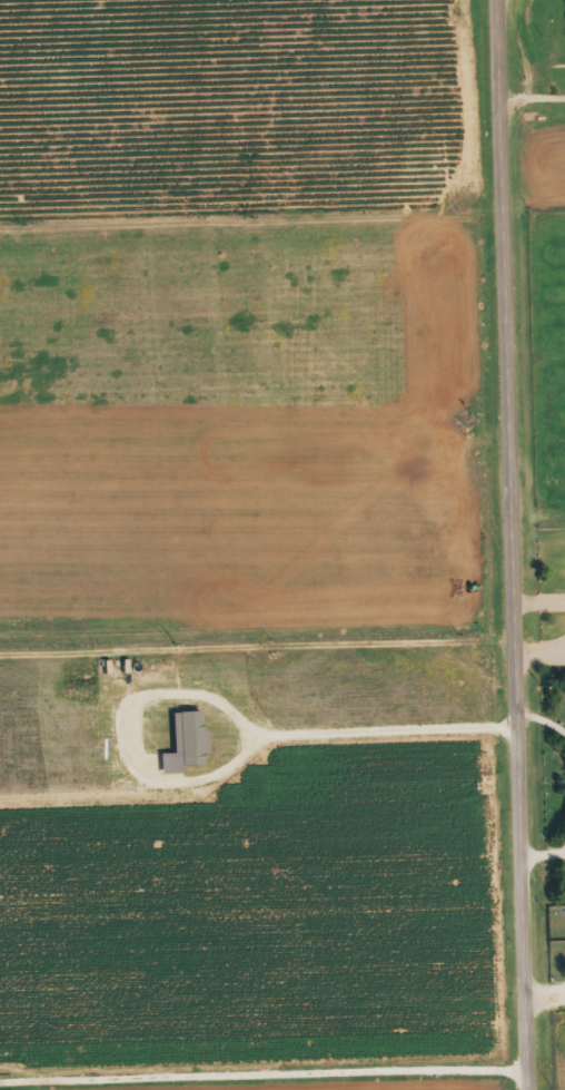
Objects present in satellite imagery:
road: (282, 215)
road: (513, 544)
road: (258, 651)

